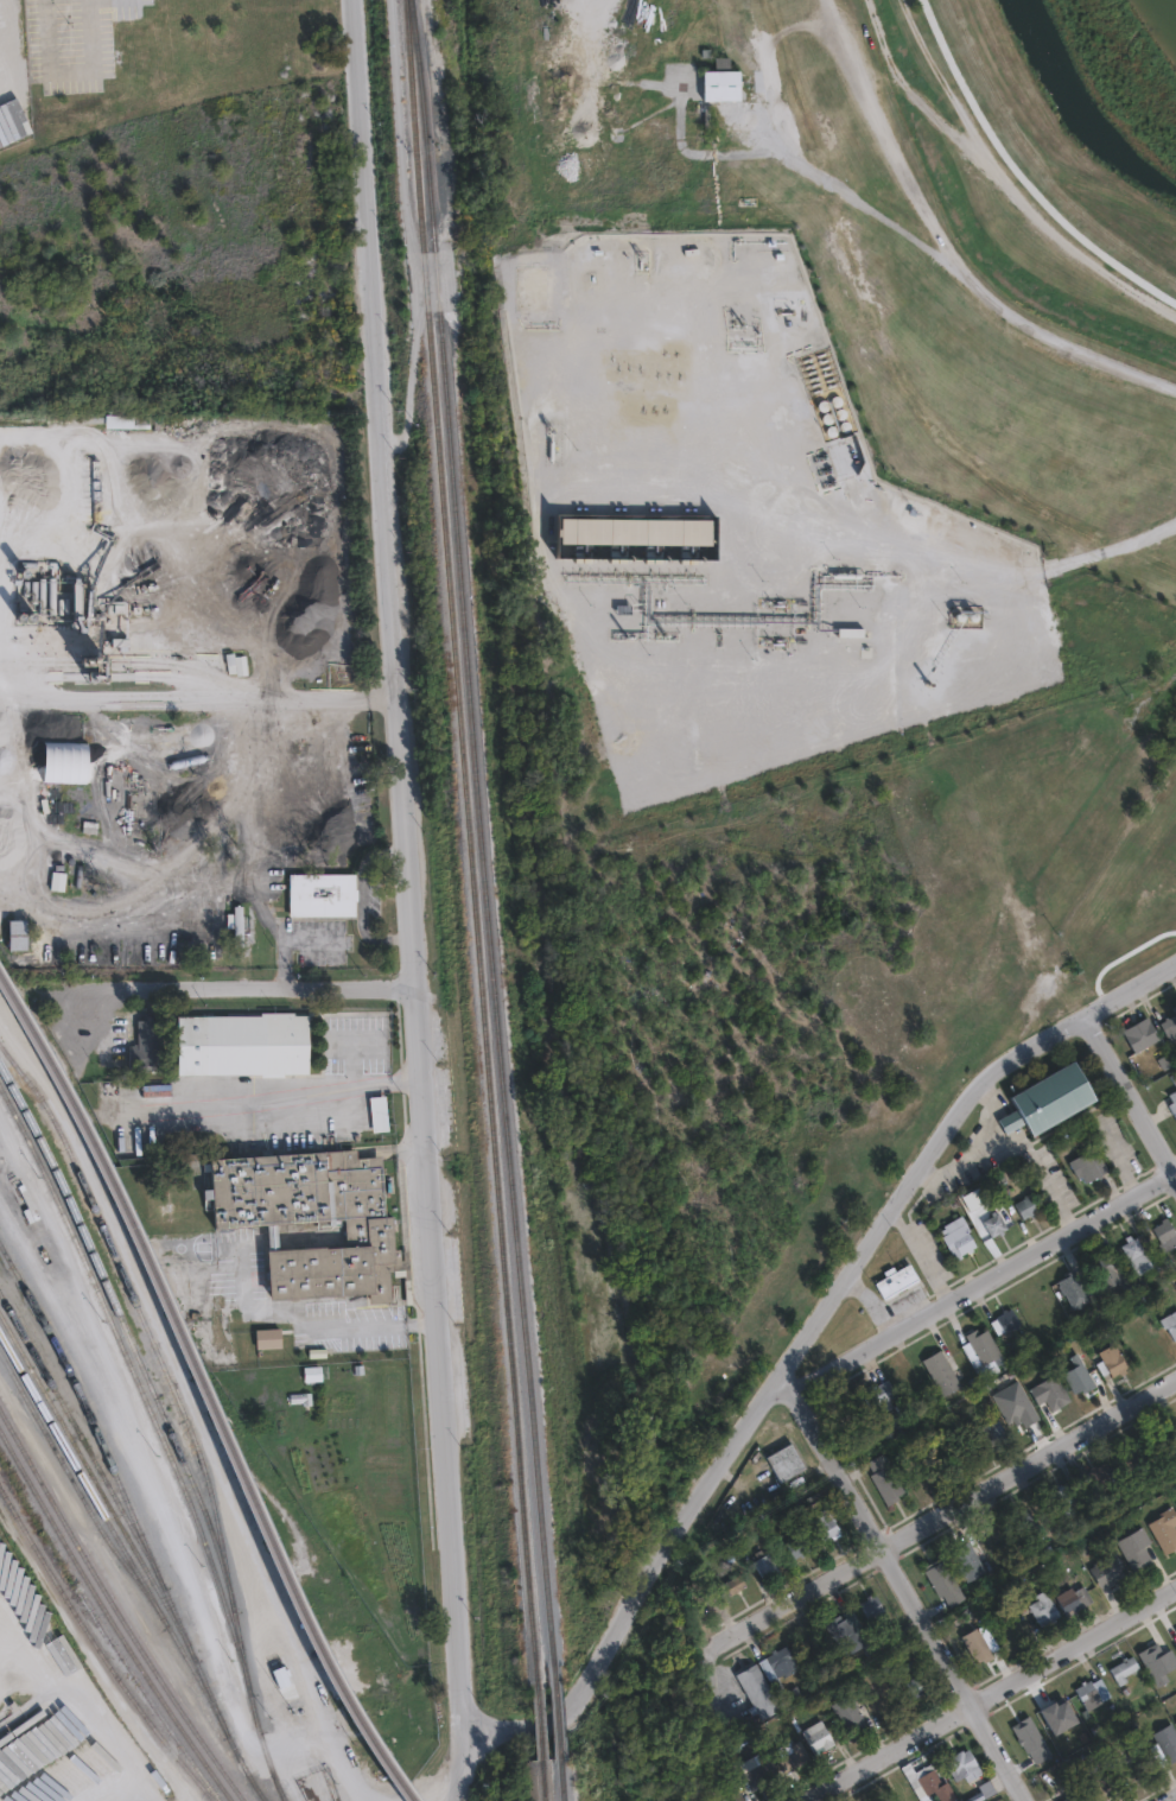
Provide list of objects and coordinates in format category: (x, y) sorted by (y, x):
helipad: (572, 12)
parking lot: (72, 42)
road: (69, 70)
building: (722, 75)
road: (884, 137)
road: (989, 140)
road: (1002, 177)
road: (408, 230)
petroleum well: (637, 256)
road: (446, 280)
road: (973, 280)
building: (536, 285)
petroleum well: (752, 332)
building: (635, 532)
road: (946, 552)
building: (82, 604)
petroleum well: (958, 619)
building: (119, 641)
building: (236, 659)
road: (196, 699)
building: (64, 756)
road: (338, 767)
railway: (479, 830)
railway: (466, 835)
road: (402, 867)
building: (322, 888)
park: (1120, 924)
building: (240, 927)
building: (12, 928)
road: (1119, 958)
road: (242, 989)
building: (1169, 1025)
building: (1139, 1034)
road: (352, 1039)
building: (146, 1041)
building: (243, 1047)
road: (350, 1061)
road: (1134, 1086)
road: (310, 1090)
building: (1048, 1101)
building: (1171, 1101)
building: (376, 1110)
road: (989, 1115)
road: (1011, 1142)
building: (1087, 1161)
building: (1029, 1206)
building: (314, 1220)
building: (998, 1225)
building: (1165, 1231)
building: (961, 1242)
building: (1137, 1249)
building: (1105, 1266)
building: (897, 1277)
road: (978, 1282)
building: (1073, 1285)
railway: (138, 1309)
building: (1007, 1317)
building: (1170, 1320)
road: (310, 1321)
building: (267, 1339)
road: (805, 1342)
building: (984, 1344)
railway: (140, 1361)
building: (1110, 1361)
building: (311, 1372)
building: (941, 1374)
building: (1078, 1375)
railway: (139, 1389)
building: (878, 1389)
building: (1047, 1389)
railway: (206, 1395)
building: (300, 1396)
railway: (76, 1432)
building: (986, 1432)
building: (787, 1463)
building: (1132, 1463)
building: (1099, 1478)
building: (884, 1480)
railway: (95, 1483)
railway: (74, 1485)
railway: (120, 1485)
building: (1066, 1499)
road: (949, 1513)
railway: (106, 1521)
building: (1026, 1522)
building: (827, 1526)
building: (1165, 1526)
building: (996, 1539)
building: (1137, 1545)
building: (797, 1547)
building: (768, 1565)
building: (970, 1565)
building: (1108, 1567)
building: (936, 1571)
building: (737, 1585)
road: (905, 1590)
building: (1074, 1596)
building: (873, 1607)
railway: (115, 1610)
building: (1045, 1610)
railway: (109, 1622)
building: (1175, 1630)
building: (844, 1636)
building: (1175, 1644)
building: (980, 1647)
railway: (98, 1650)
building: (1155, 1661)
building: (777, 1662)
building: (1125, 1669)
building: (916, 1681)
building: (756, 1686)
road: (987, 1693)
building: (1093, 1693)
railway: (150, 1697)
railway: (555, 1708)
building: (845, 1708)
building: (1175, 1713)
road: (708, 1716)
railway: (539, 1718)
building: (1175, 1720)
building: (816, 1731)
building: (1030, 1739)
building: (1167, 1742)
railway: (266, 1750)
building: (790, 1751)
building: (961, 1762)
railway: (244, 1767)
road: (469, 1768)
building: (1130, 1768)
building: (761, 1771)
building: (928, 1777)
railway: (561, 1778)
railway: (543, 1783)
building: (981, 1788)
building: (1100, 1788)
railway: (280, 1794)
road: (123, 1796)
building: (1070, 1799)
road: (1172, 1799)

